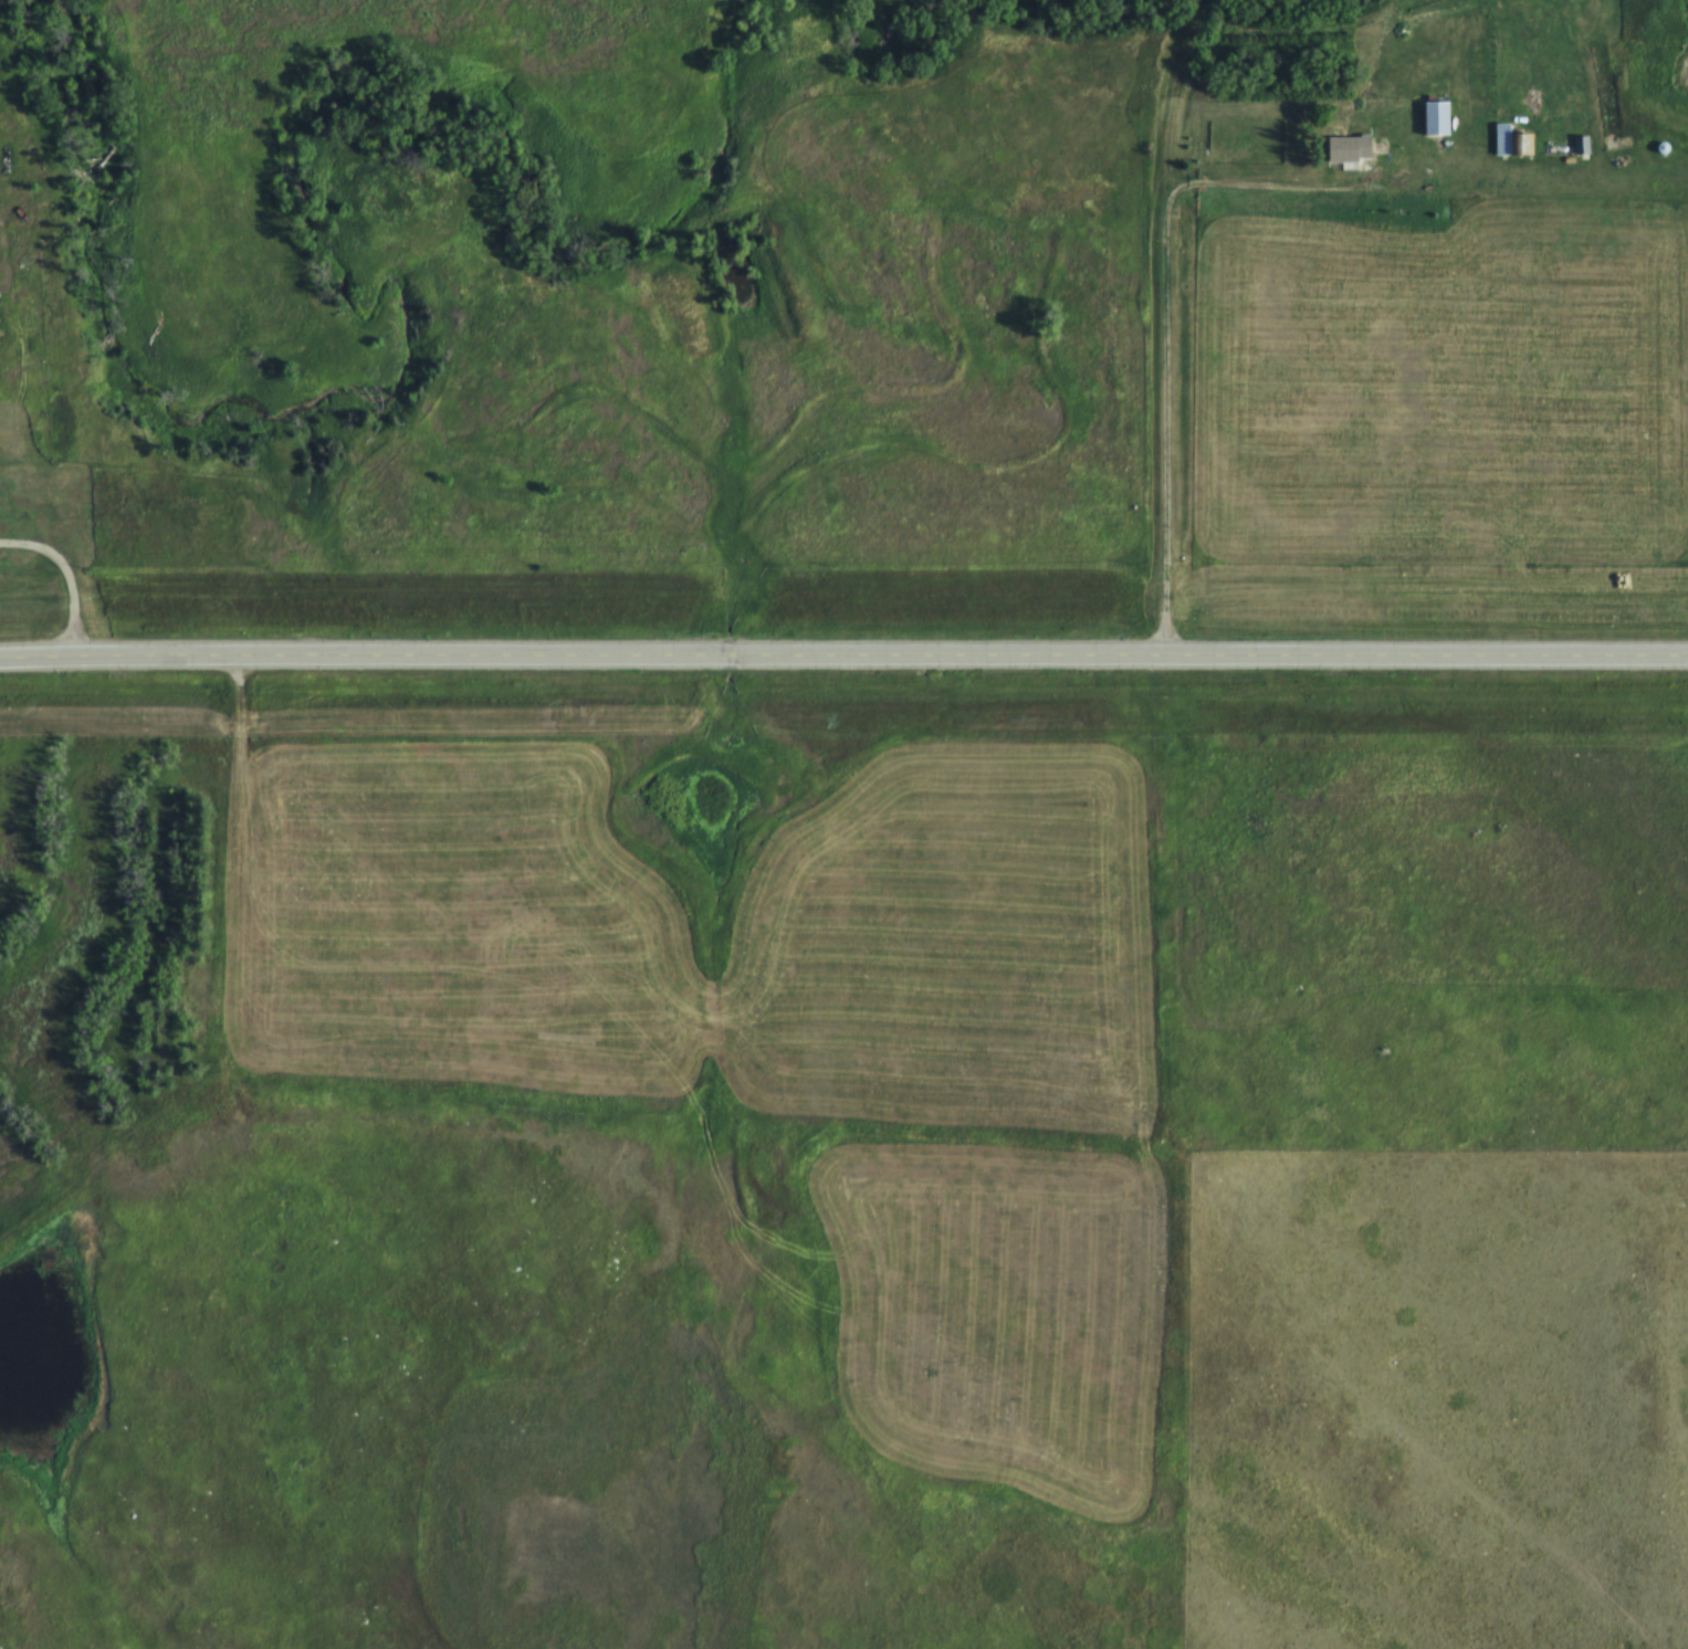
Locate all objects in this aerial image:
building: (1435, 120)
building: (1510, 144)
building: (1350, 149)
road: (1168, 326)
road: (843, 659)

